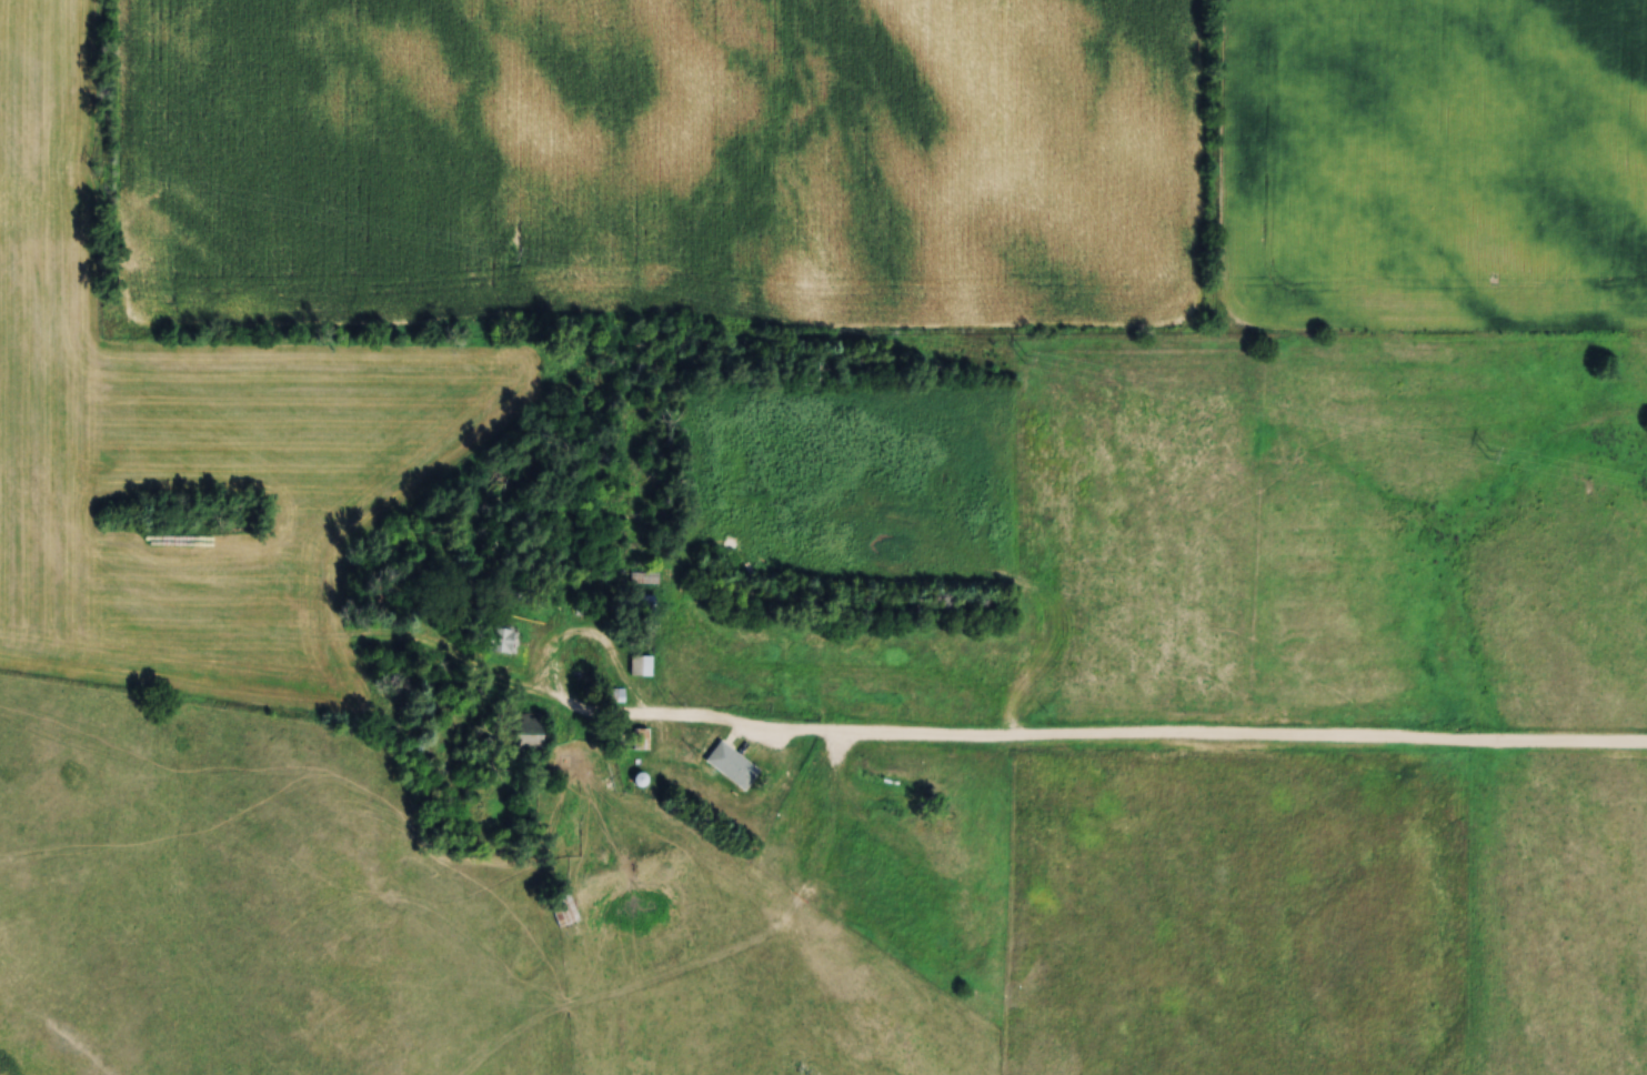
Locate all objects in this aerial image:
building: (640, 600)
building: (500, 640)
building: (516, 734)
road: (1192, 736)
building: (637, 739)
building: (727, 764)
building: (562, 907)

